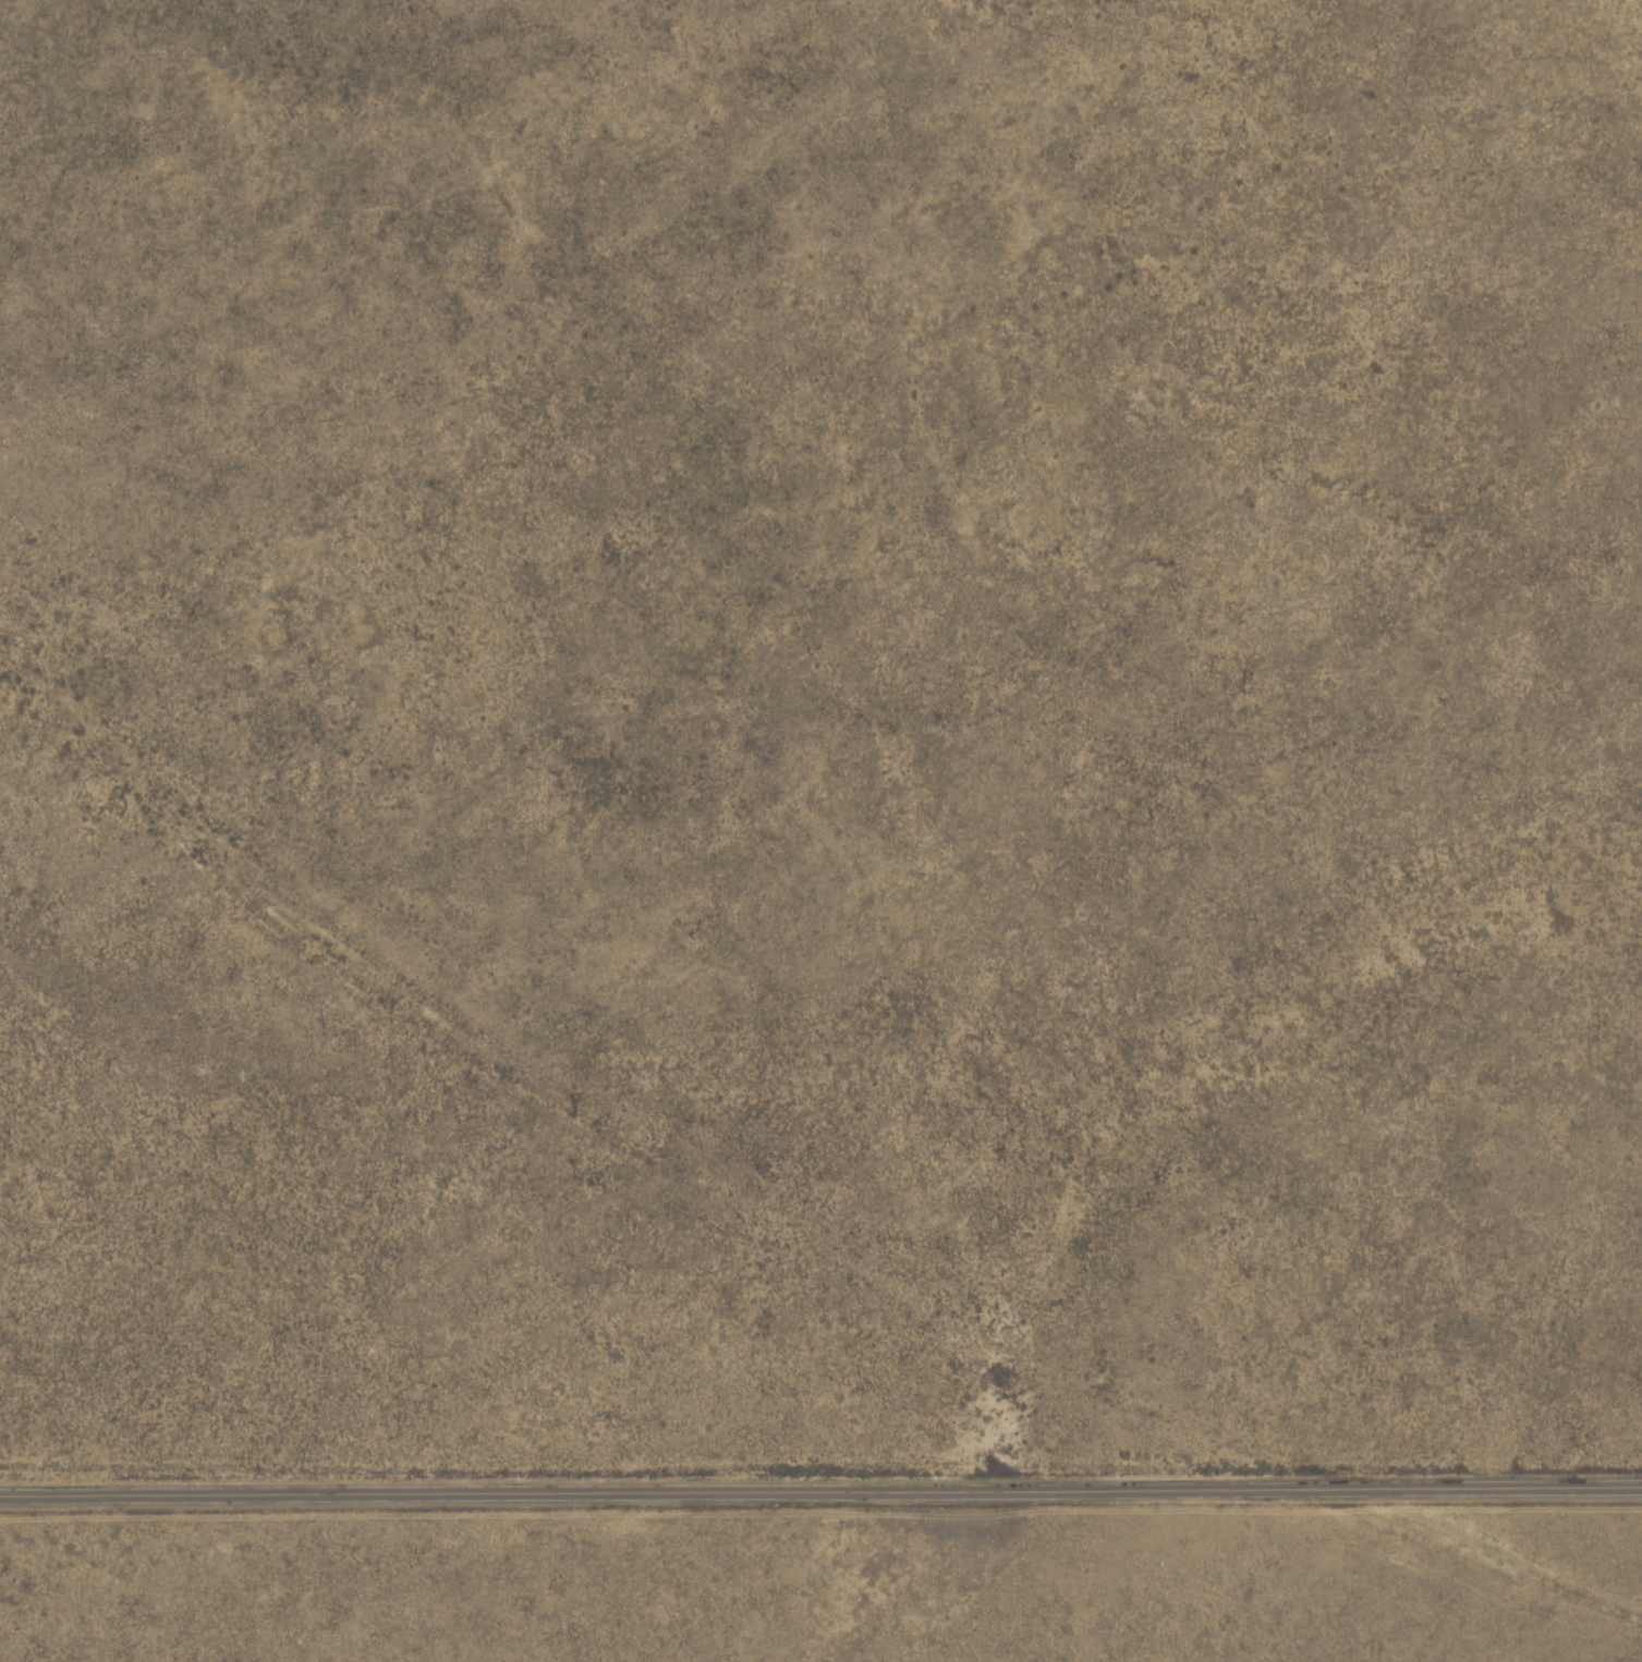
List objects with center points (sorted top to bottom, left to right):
road: (820, 1493)

